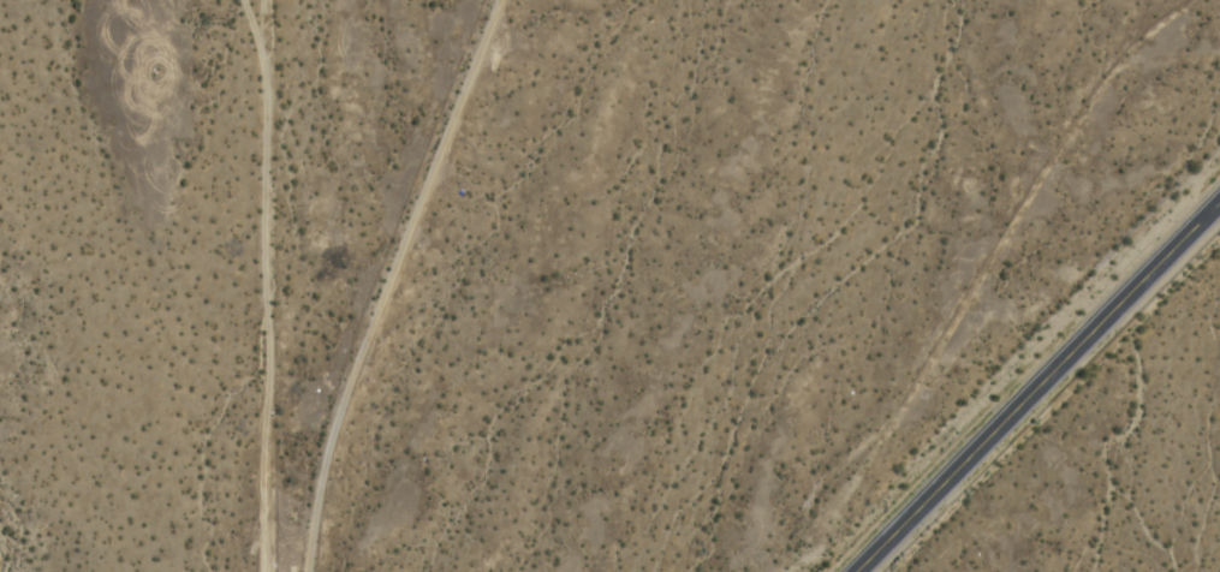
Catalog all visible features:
road: (1036, 386)

